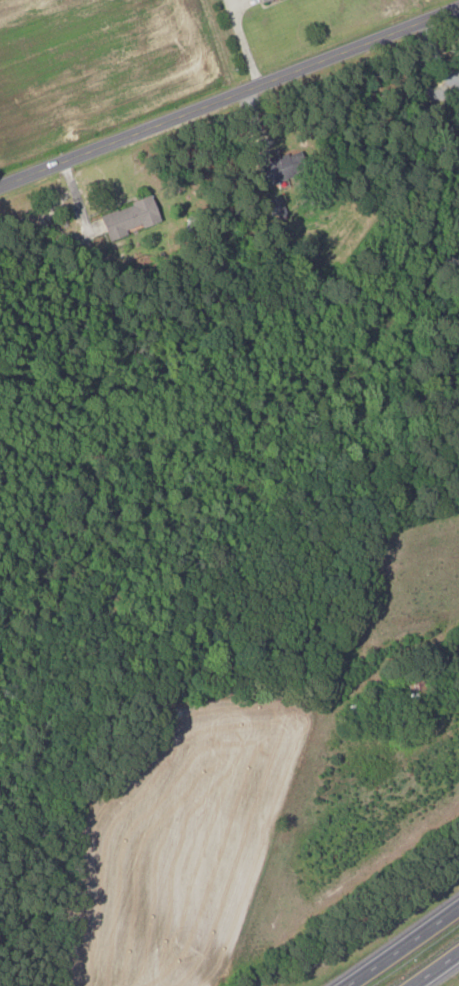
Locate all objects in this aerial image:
road: (240, 42)
road: (229, 94)
building: (273, 169)
building: (125, 218)
road: (403, 946)
road: (433, 967)

